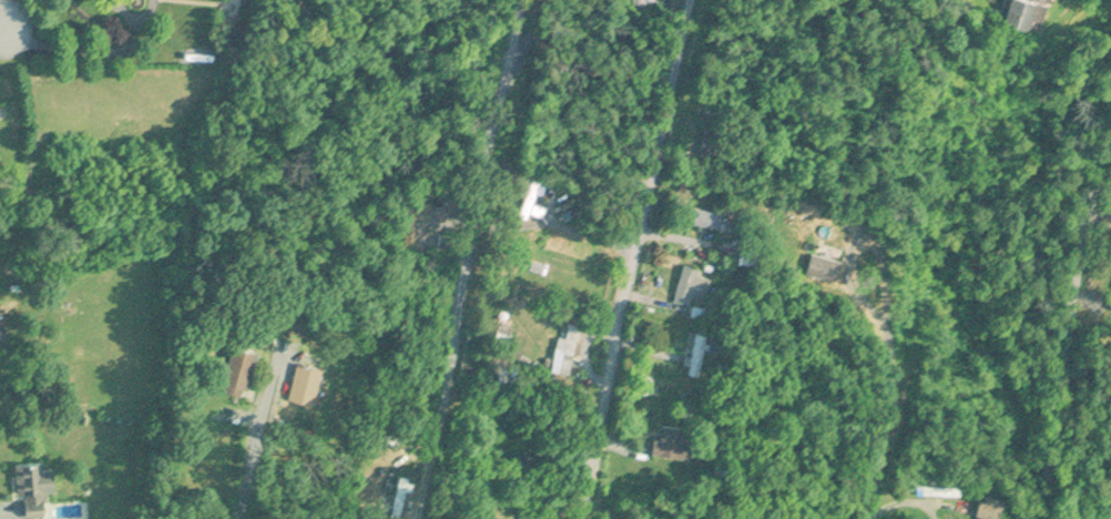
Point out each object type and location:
building: (1028, 12)
road: (137, 16)
road: (78, 47)
road: (784, 125)
building: (716, 141)
building: (533, 200)
building: (717, 220)
building: (833, 243)
road: (473, 258)
road: (645, 258)
building: (695, 284)
road: (1069, 295)
building: (568, 345)
building: (699, 352)
building: (242, 369)
building: (307, 381)
building: (673, 440)
road: (878, 448)
road: (257, 472)
building: (35, 486)
building: (940, 490)
building: (400, 496)
road: (3, 507)
building: (993, 507)
building: (534, 516)

